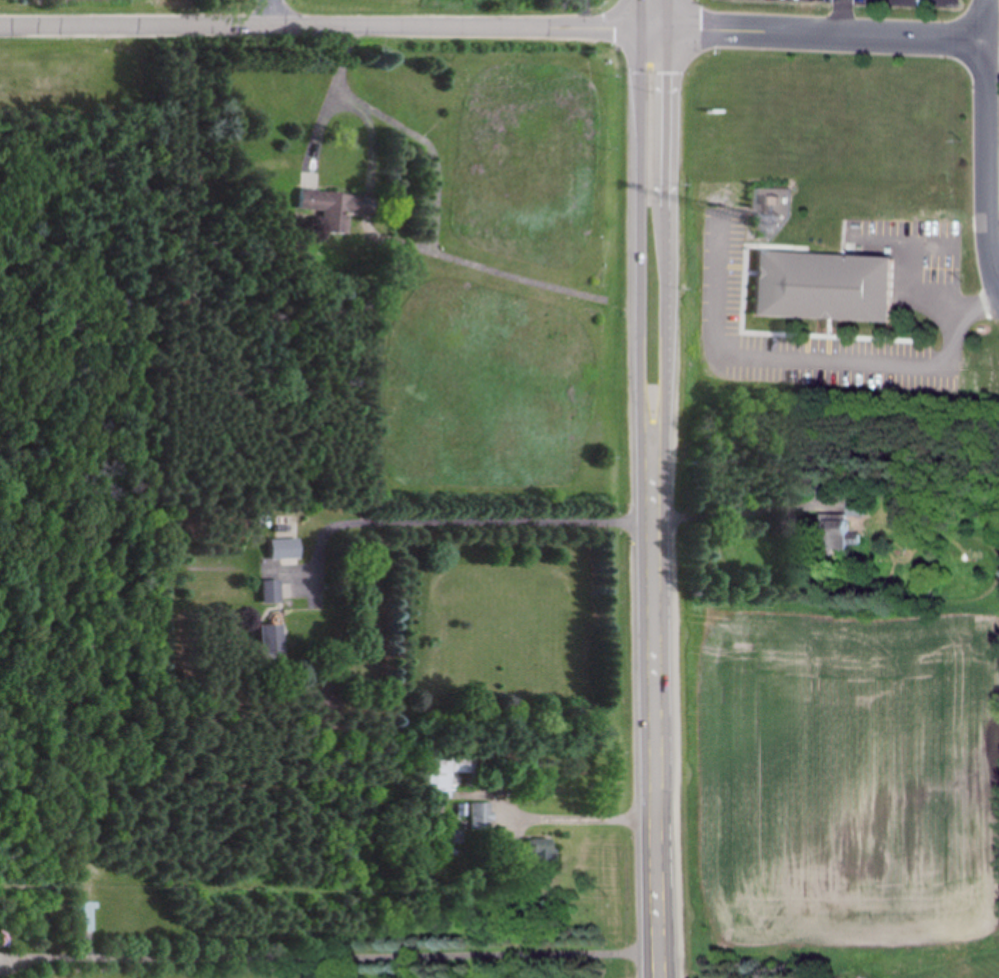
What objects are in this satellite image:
road: (270, 12)
road: (586, 14)
road: (335, 26)
traffic signals: (641, 29)
traffic signals: (670, 30)
road: (826, 36)
road: (990, 57)
road: (983, 147)
building: (328, 207)
park: (61, 250)
road: (640, 258)
road: (667, 258)
building: (818, 285)
building: (834, 532)
building: (279, 548)
building: (267, 591)
building: (265, 642)
road: (655, 734)
power tower: (615, 750)
building: (426, 777)
building: (476, 816)
road: (581, 817)
building: (533, 850)
power tower: (610, 898)
building: (81, 917)
road: (329, 959)
road: (659, 965)

